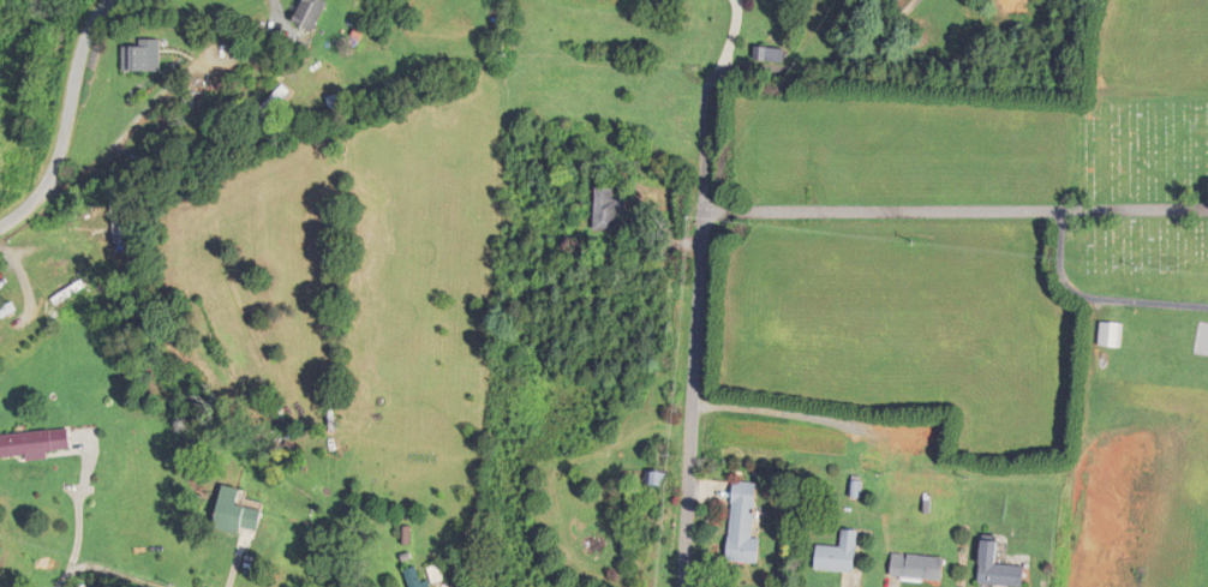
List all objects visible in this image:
building: (312, 13)
road: (281, 22)
building: (772, 55)
building: (144, 56)
road: (758, 70)
road: (76, 89)
building: (270, 106)
road: (149, 107)
park: (1130, 187)
road: (26, 209)
building: (610, 211)
road: (955, 212)
building: (119, 236)
building: (46, 264)
building: (68, 293)
road: (1098, 298)
building: (7, 311)
building: (1111, 335)
road: (692, 397)
building: (35, 445)
building: (238, 514)
building: (744, 526)
building: (839, 555)
road: (108, 568)
building: (919, 568)
building: (998, 569)
building: (438, 575)
building: (413, 579)

